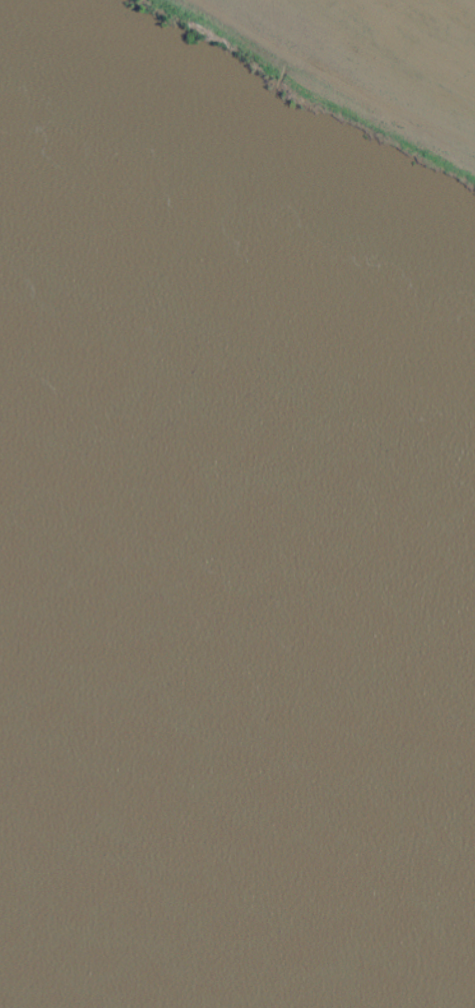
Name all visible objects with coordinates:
river: (237, 827)

